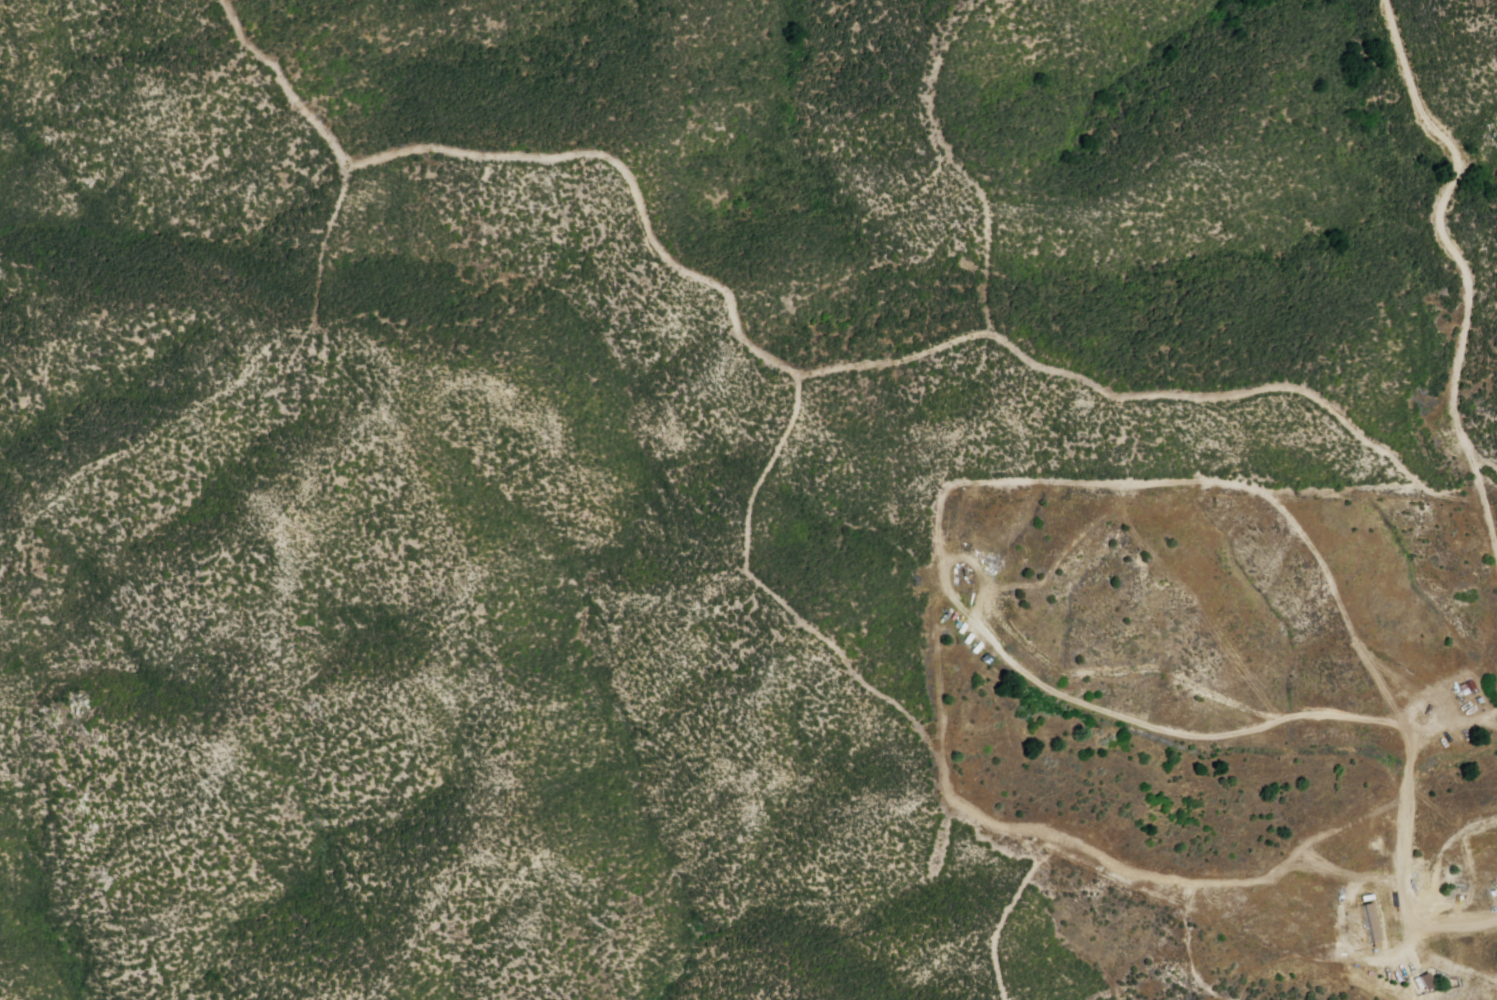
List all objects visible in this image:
road: (1461, 260)
building: (1371, 921)
building: (1428, 980)

